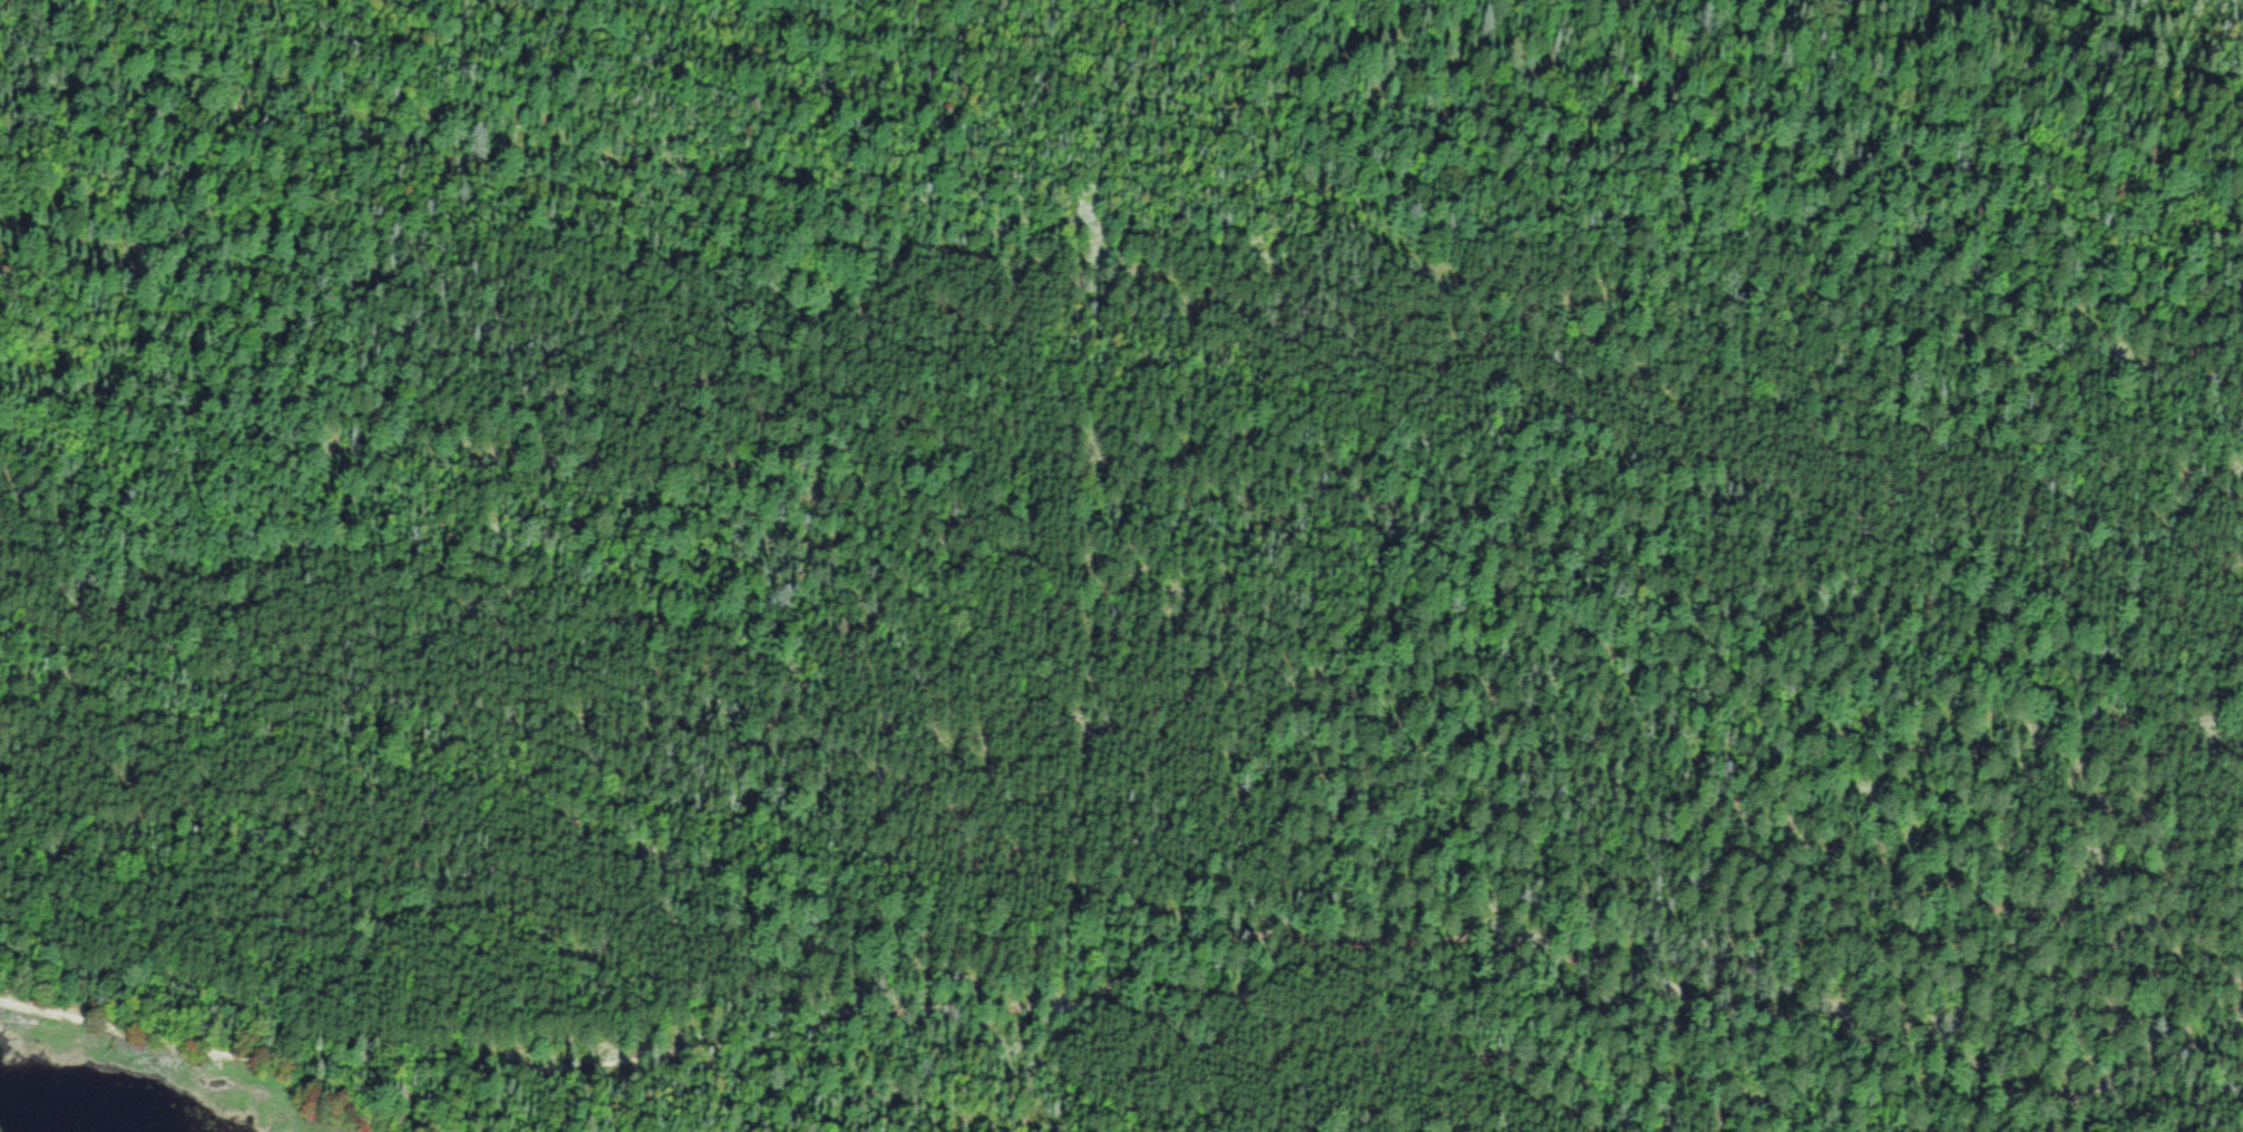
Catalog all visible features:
road: (1122, 954)

